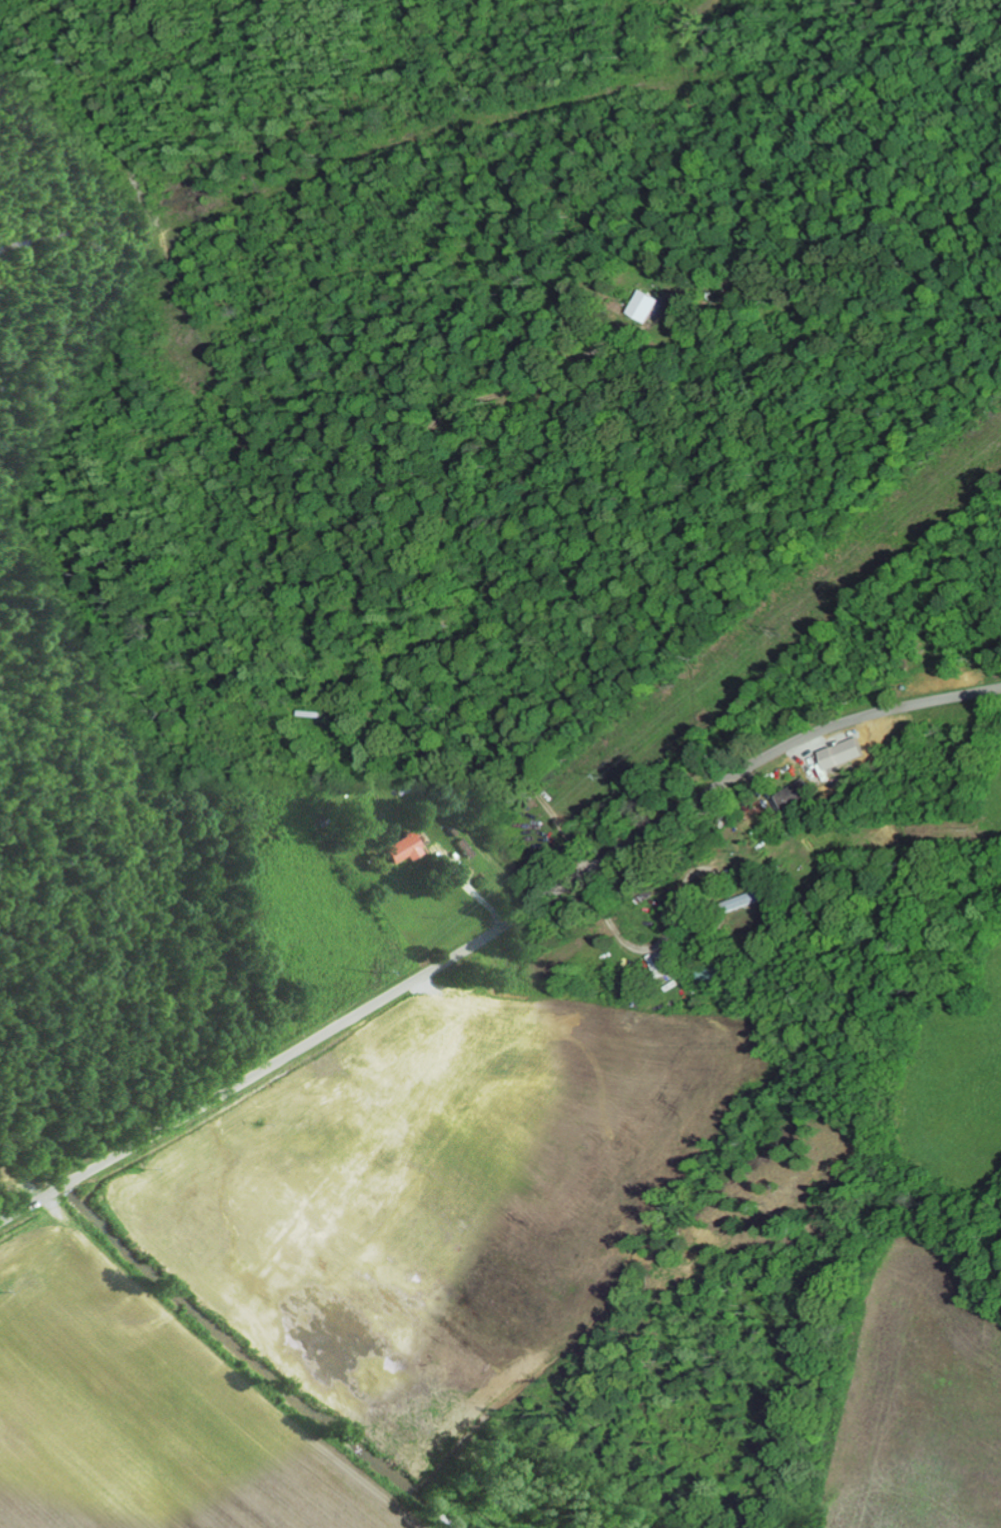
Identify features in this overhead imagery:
road: (117, 9)
building: (650, 307)
road: (257, 451)
building: (848, 753)
building: (798, 797)
building: (405, 848)
building: (747, 900)
road: (491, 930)
building: (714, 976)

